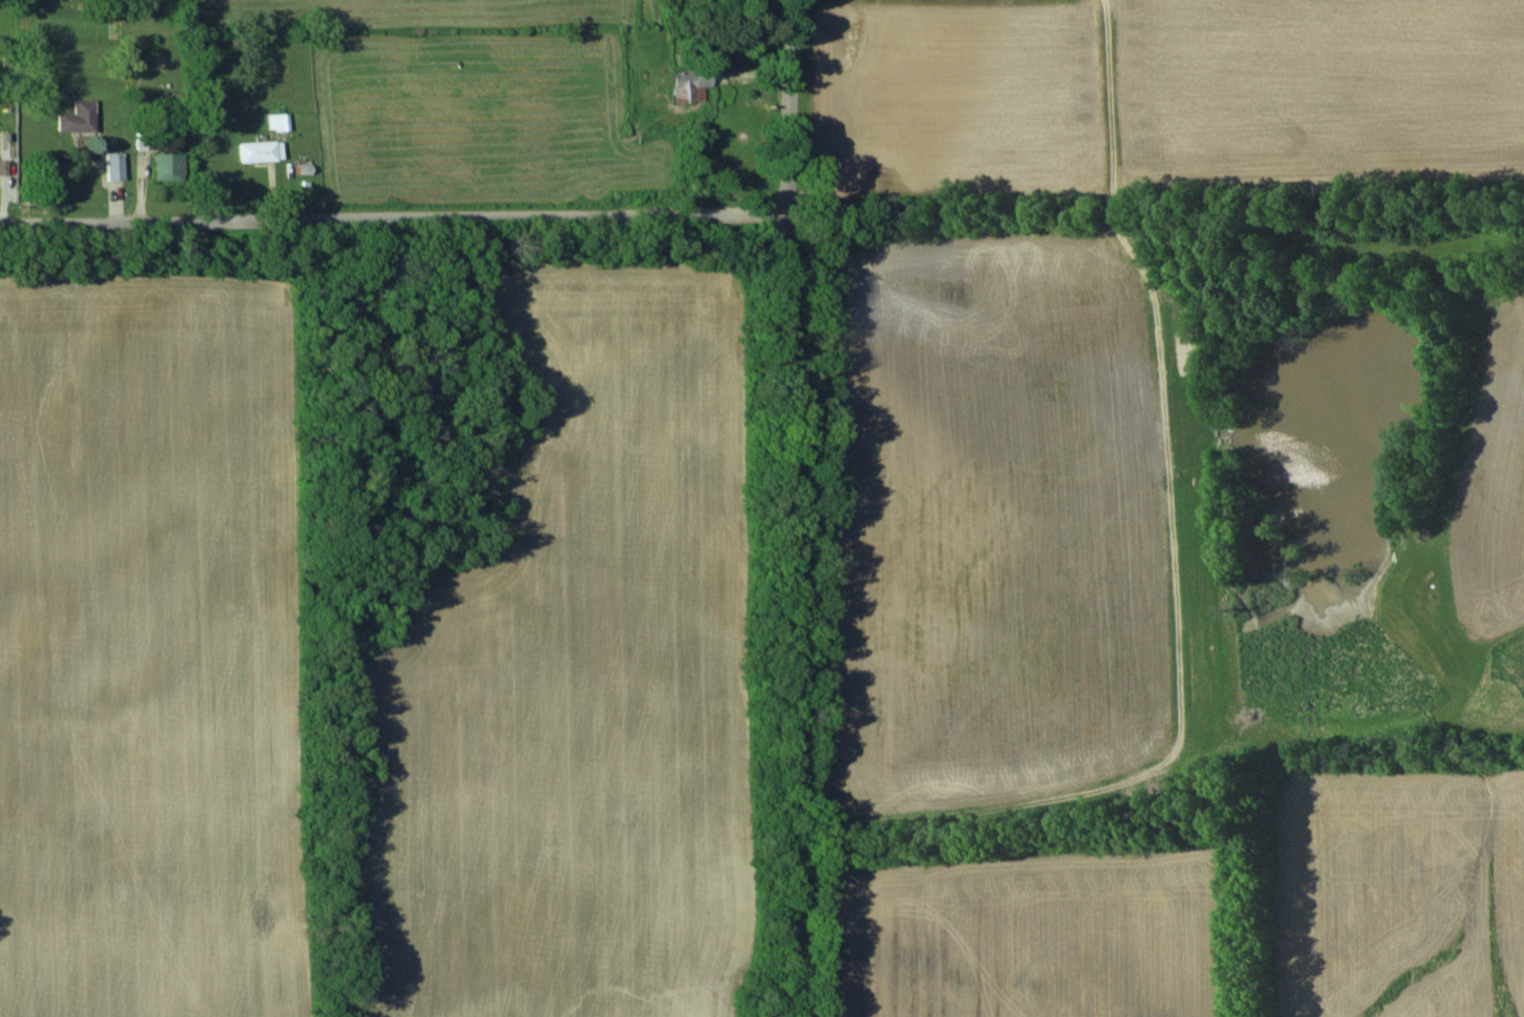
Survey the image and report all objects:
building: (690, 85)
building: (78, 117)
building: (278, 121)
building: (260, 150)
building: (115, 165)
building: (3, 166)
building: (168, 166)
road: (395, 213)
road: (792, 508)

